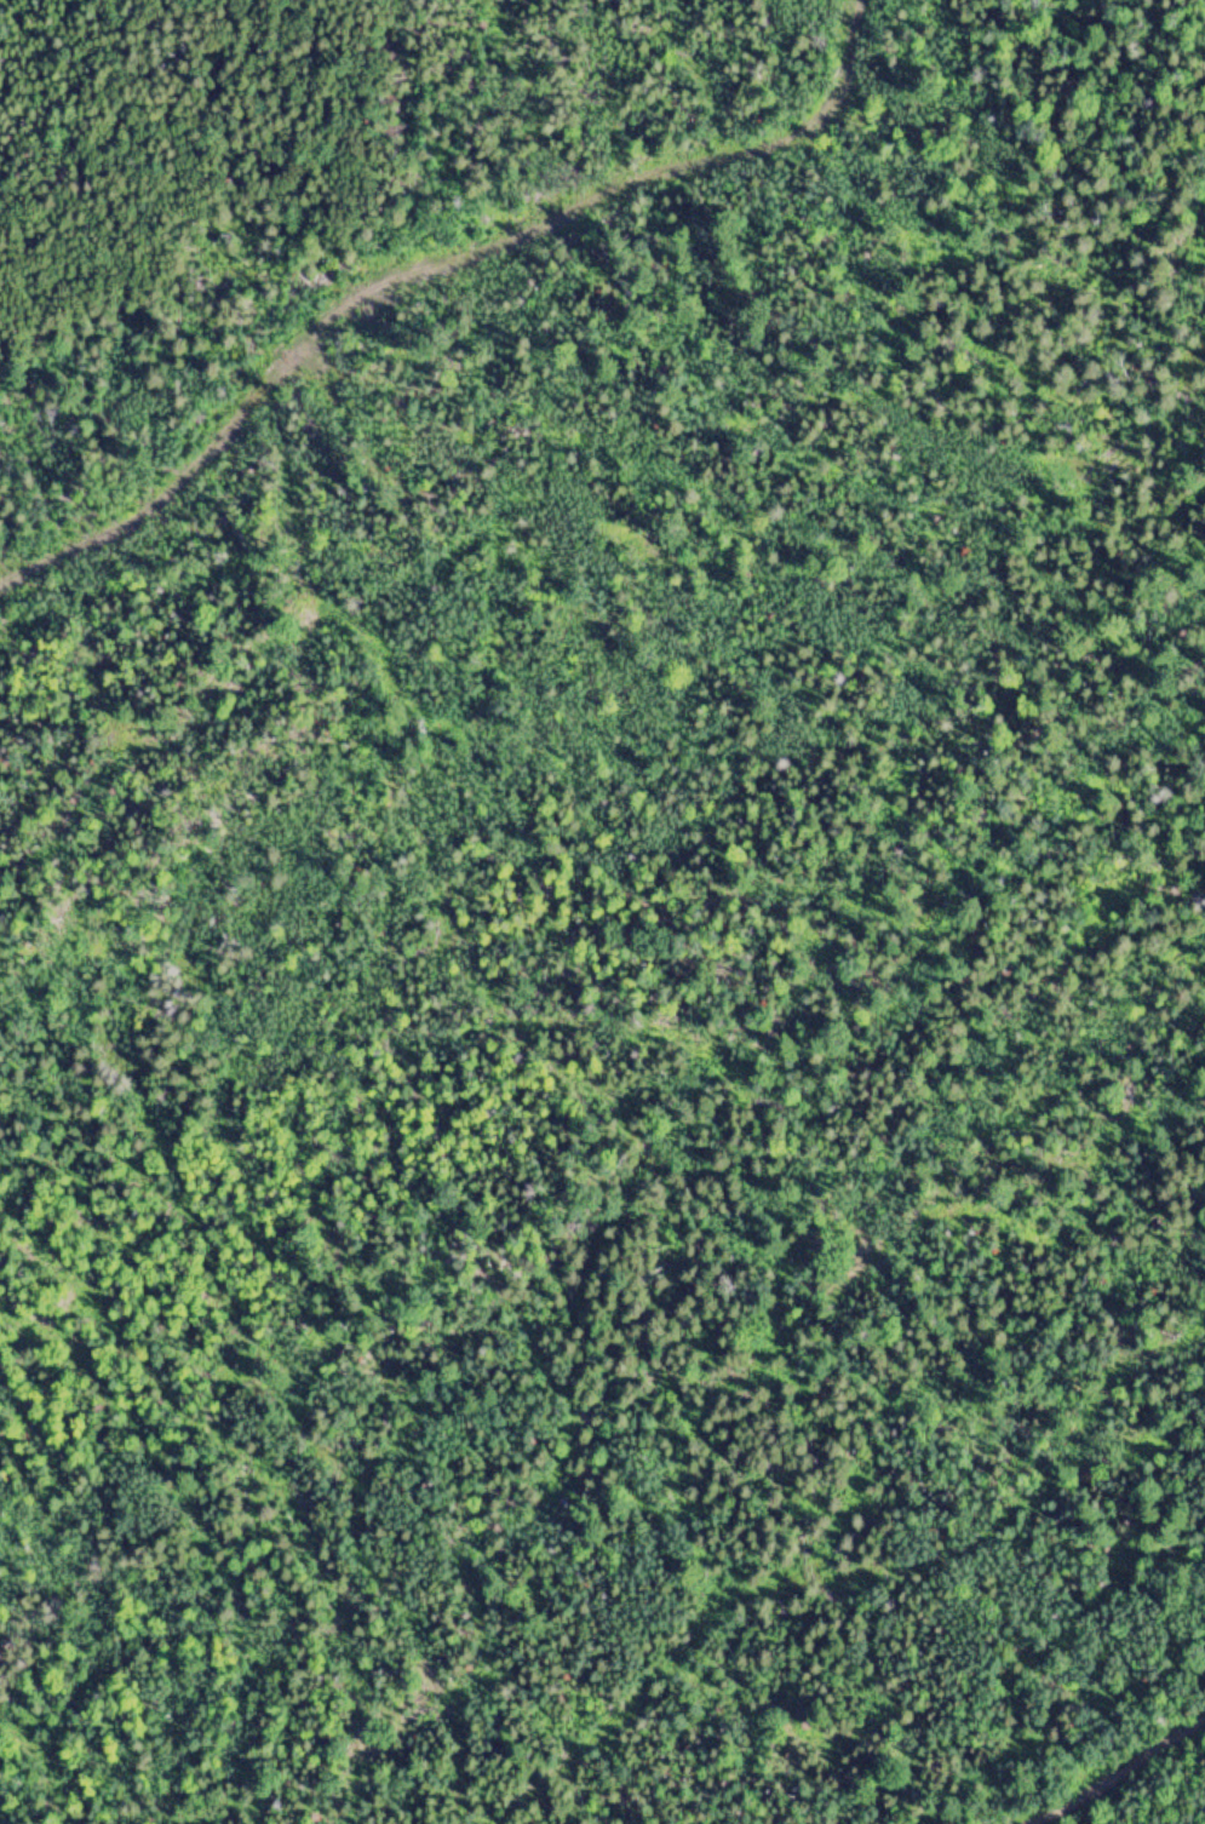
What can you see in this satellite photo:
road: (1129, 1785)

